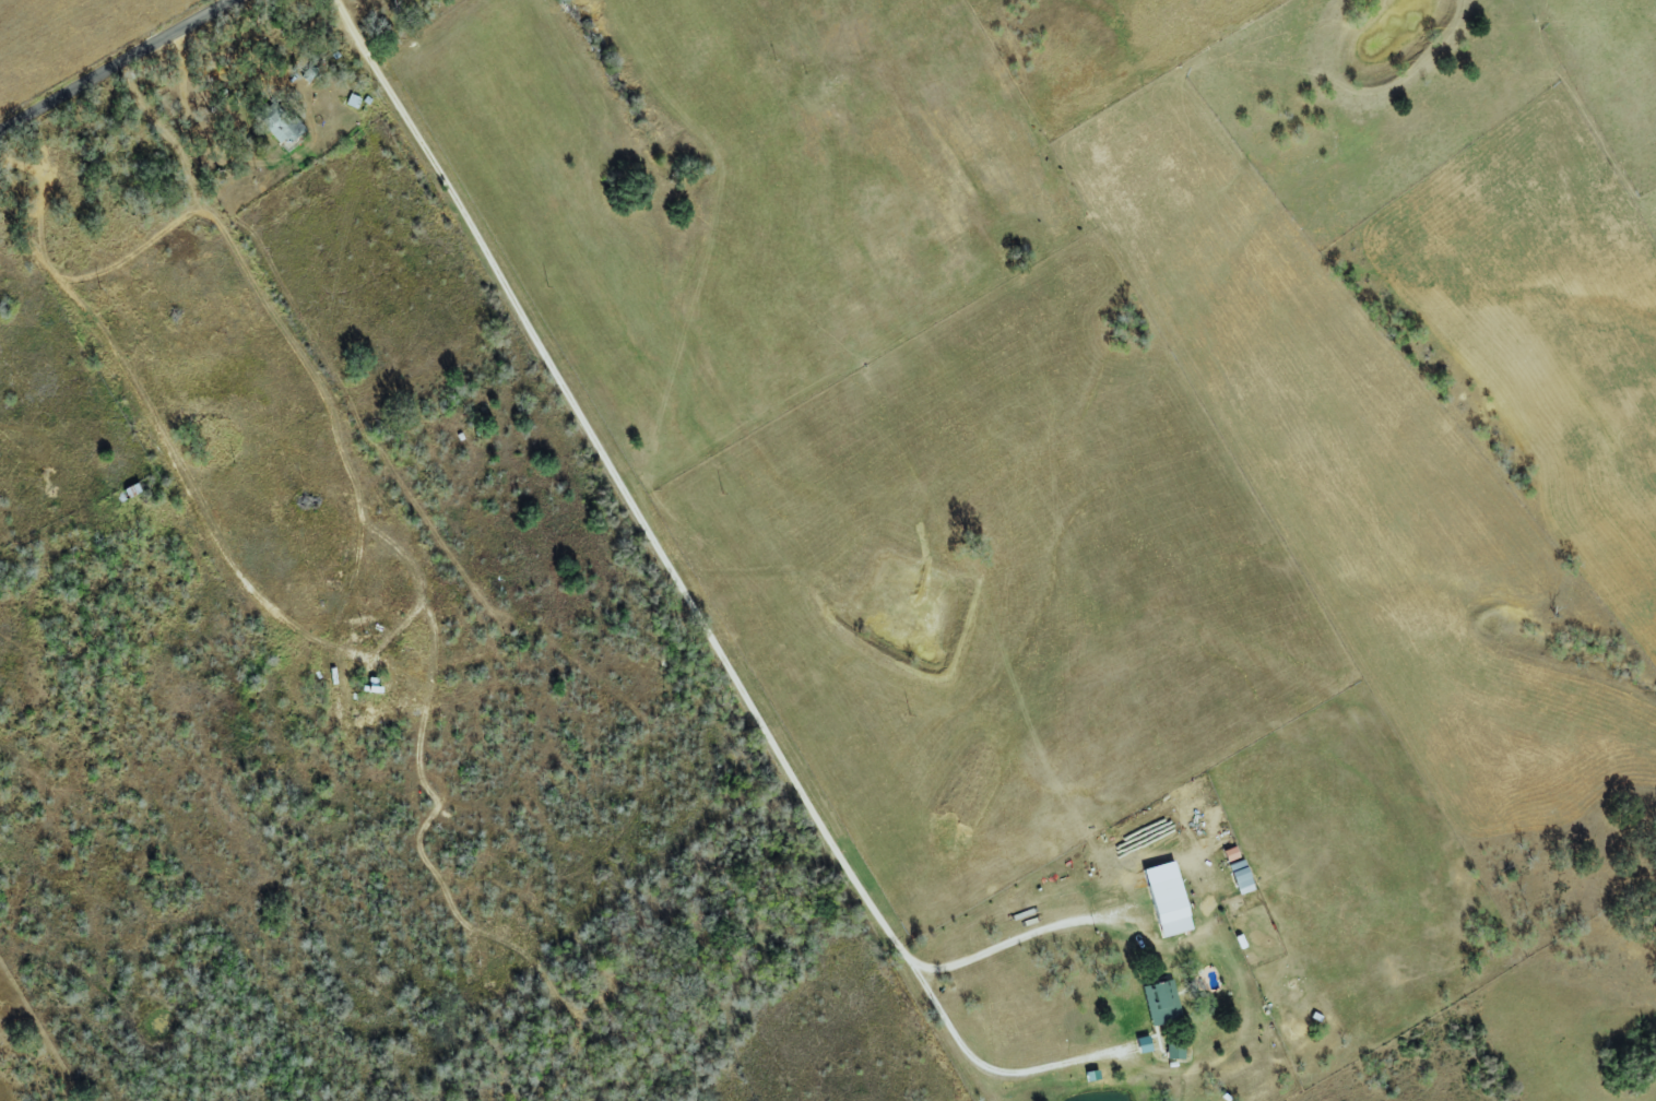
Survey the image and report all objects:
road: (114, 63)
road: (210, 69)
building: (307, 73)
building: (351, 102)
building: (276, 123)
road: (625, 164)
road: (673, 579)
building: (1240, 877)
building: (1170, 907)
road: (1015, 937)
building: (1160, 1003)
building: (1174, 1052)

